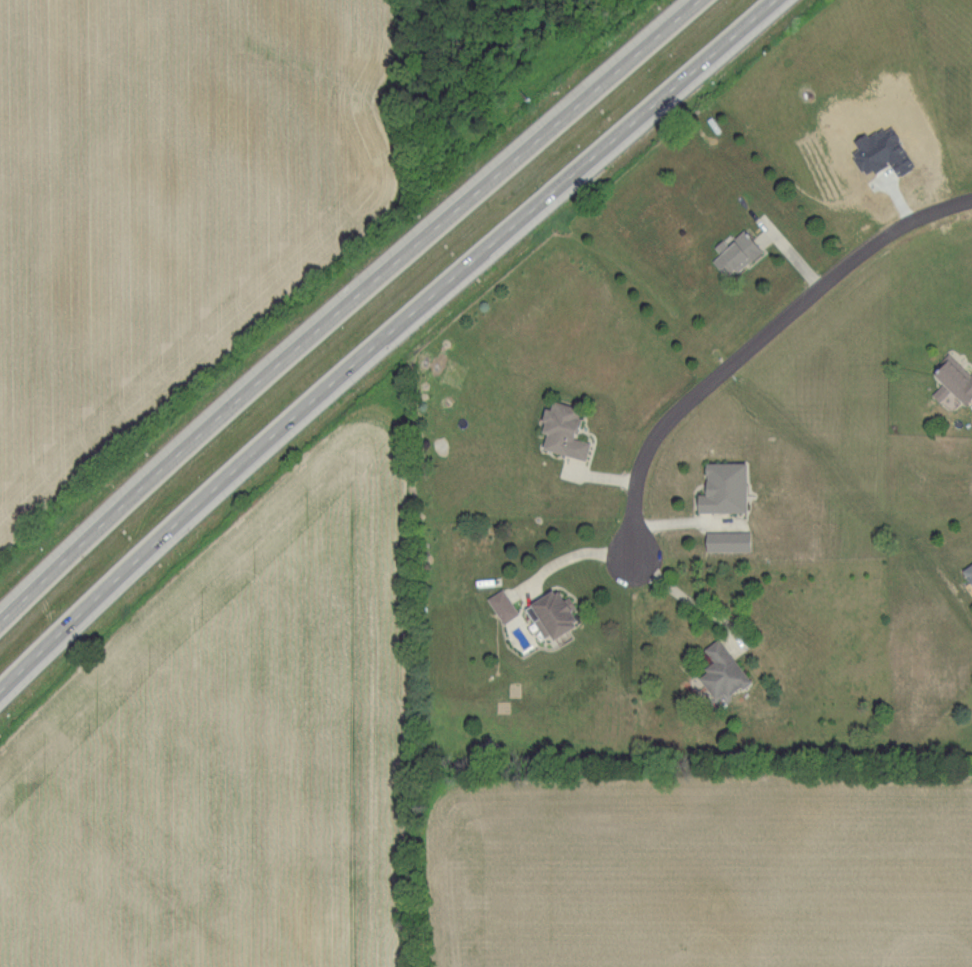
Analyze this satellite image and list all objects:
building: (879, 151)
building: (737, 252)
road: (345, 305)
road: (758, 338)
road: (382, 339)
building: (950, 376)
building: (567, 430)
building: (727, 487)
building: (730, 541)
road: (574, 554)
building: (966, 573)
road: (683, 595)
building: (504, 605)
building: (556, 614)
building: (725, 672)

